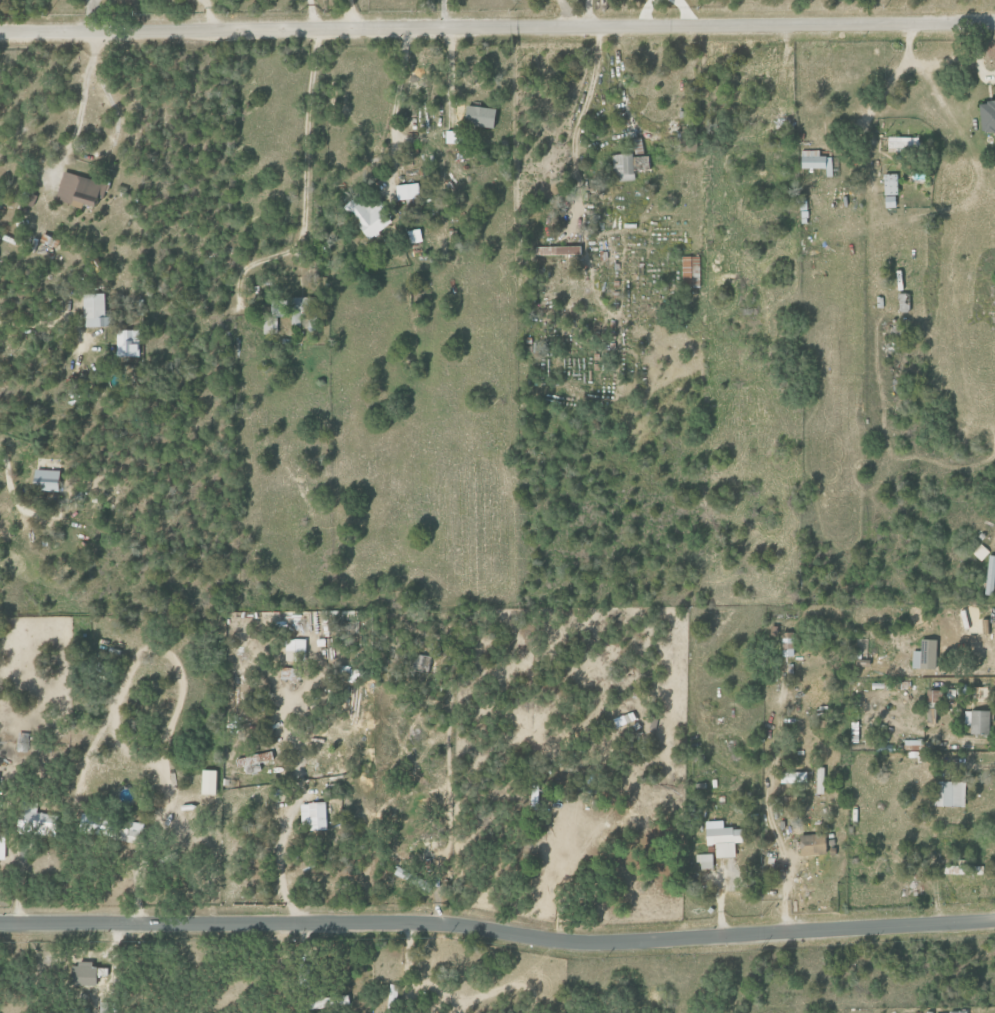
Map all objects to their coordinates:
road: (91, 2)
road: (569, 13)
road: (591, 13)
road: (310, 14)
road: (443, 14)
road: (89, 16)
road: (497, 27)
road: (449, 72)
road: (84, 89)
road: (585, 103)
road: (873, 108)
road: (396, 109)
building: (478, 116)
building: (986, 116)
building: (784, 119)
building: (452, 137)
building: (902, 143)
building: (815, 161)
building: (628, 166)
road: (305, 181)
building: (77, 189)
building: (889, 190)
building: (407, 191)
building: (367, 215)
building: (414, 235)
building: (44, 243)
building: (557, 250)
building: (902, 302)
building: (93, 310)
building: (303, 311)
building: (270, 319)
road: (49, 324)
building: (127, 343)
building: (44, 480)
road: (12, 486)
building: (990, 575)
building: (972, 626)
building: (786, 644)
building: (293, 649)
building: (924, 655)
road: (975, 671)
road: (178, 706)
building: (976, 721)
road: (971, 741)
building: (254, 762)
road: (970, 765)
building: (207, 782)
building: (948, 793)
road: (291, 815)
building: (312, 816)
building: (37, 820)
building: (129, 831)
building: (721, 839)
building: (810, 844)
building: (704, 861)
road: (786, 865)
building: (412, 879)
road: (497, 931)
building: (343, 999)
building: (956, 1012)

